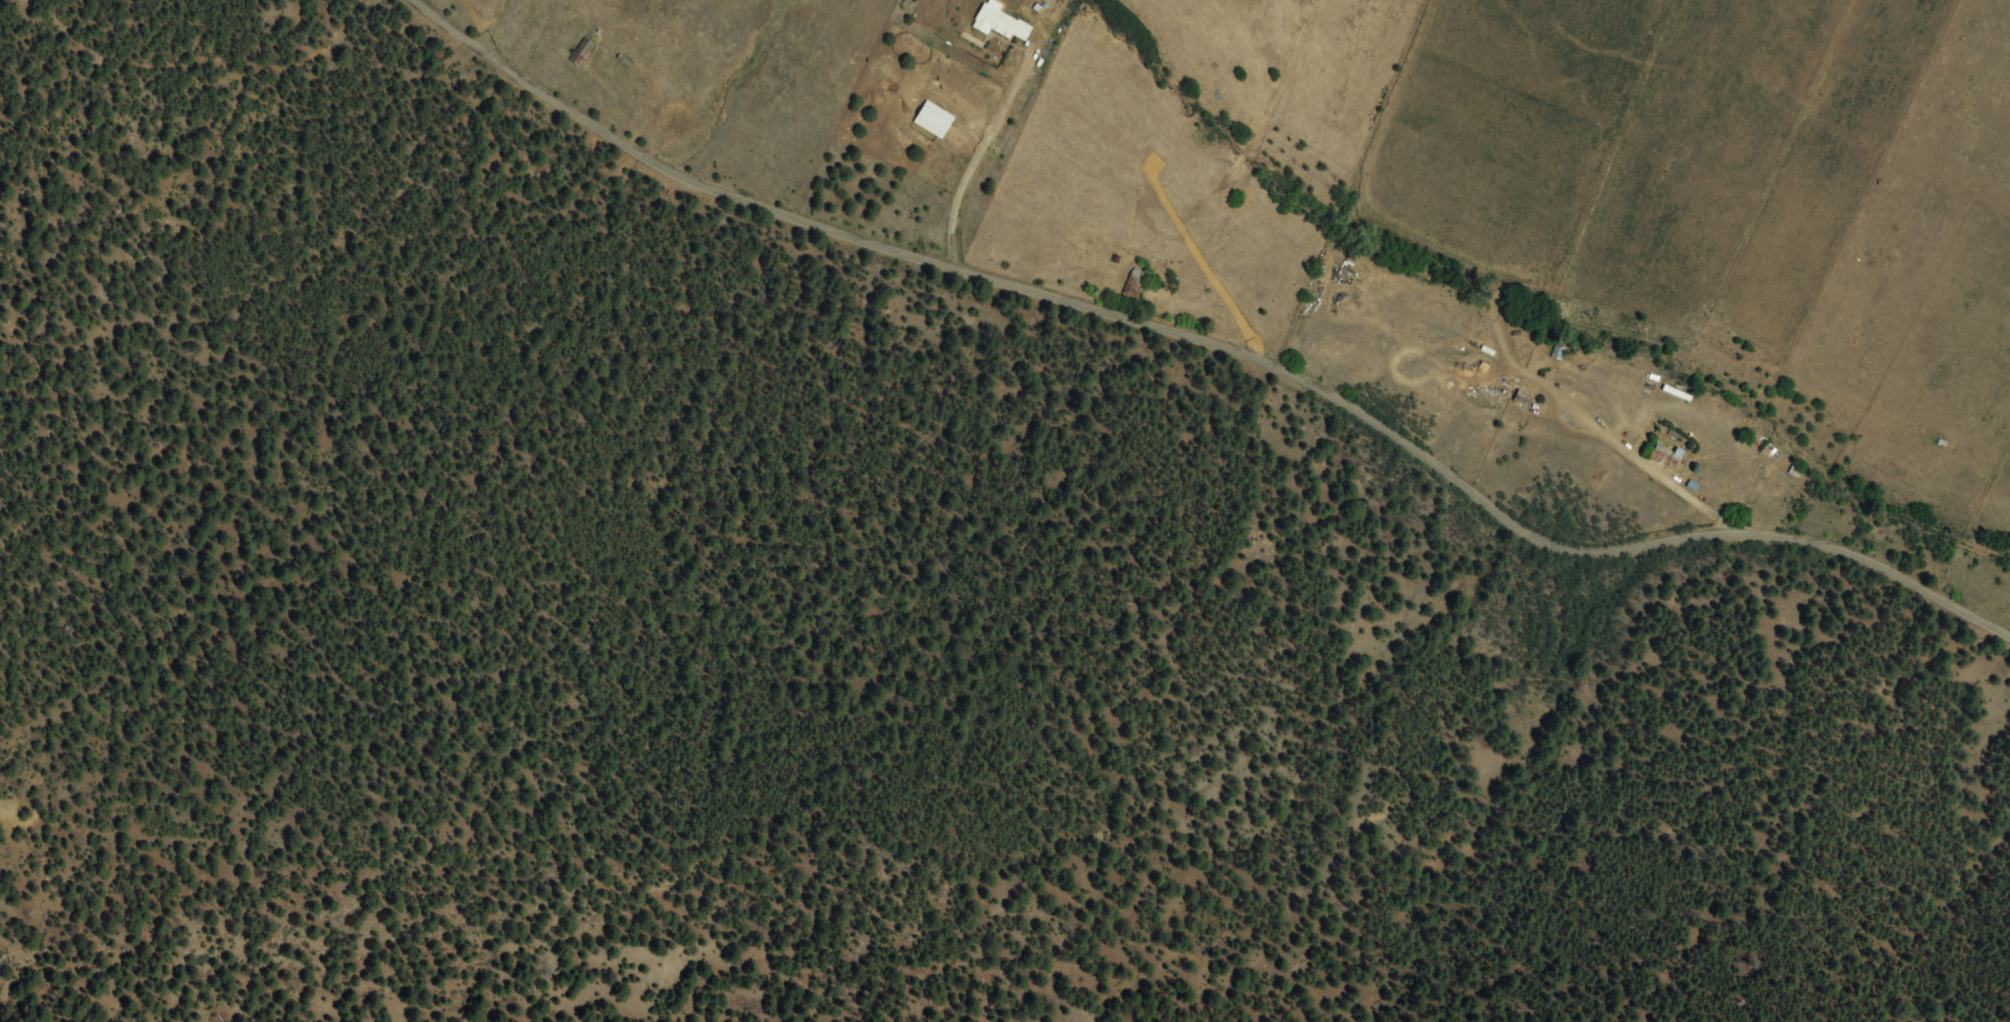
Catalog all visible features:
building: (992, 29)
road: (544, 39)
building: (582, 52)
building: (936, 120)
road: (840, 169)
road: (1173, 262)
building: (1136, 283)
road: (1356, 325)
road: (1226, 346)
building: (1682, 396)
building: (1524, 401)
road: (1738, 413)
building: (1667, 456)

